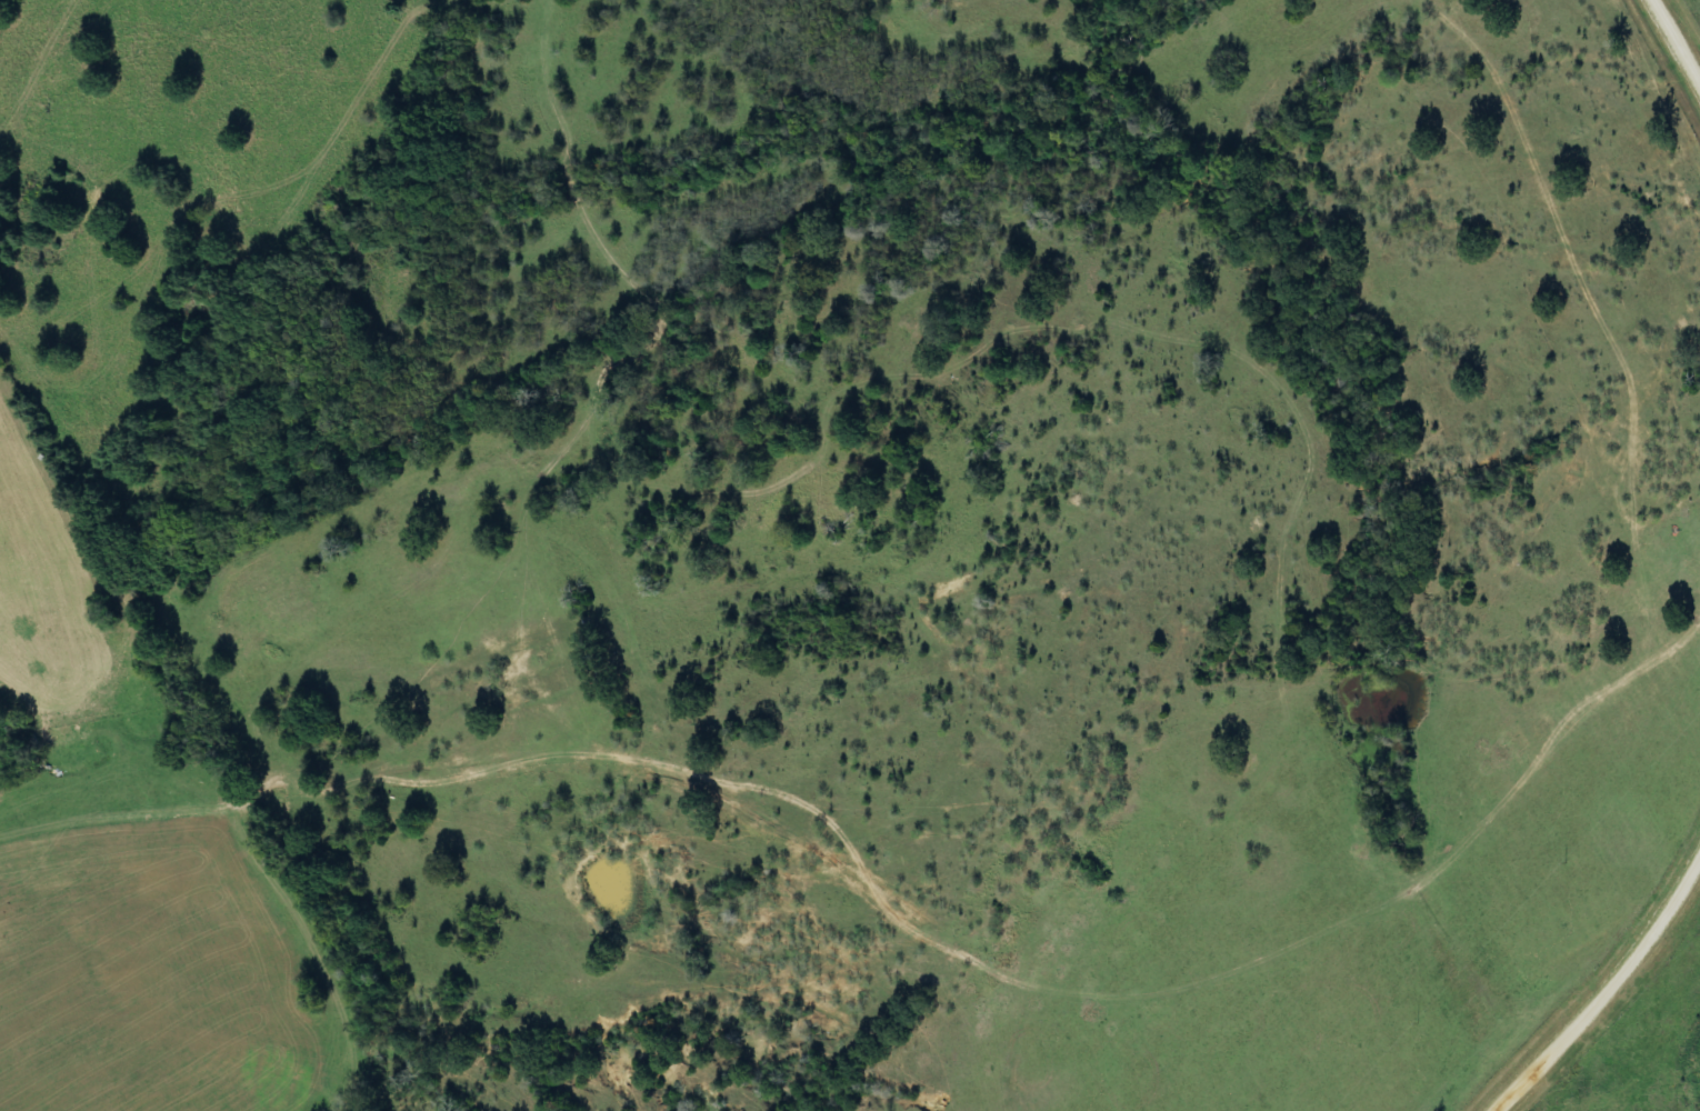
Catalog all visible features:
road: (1674, 43)
road: (1608, 993)

